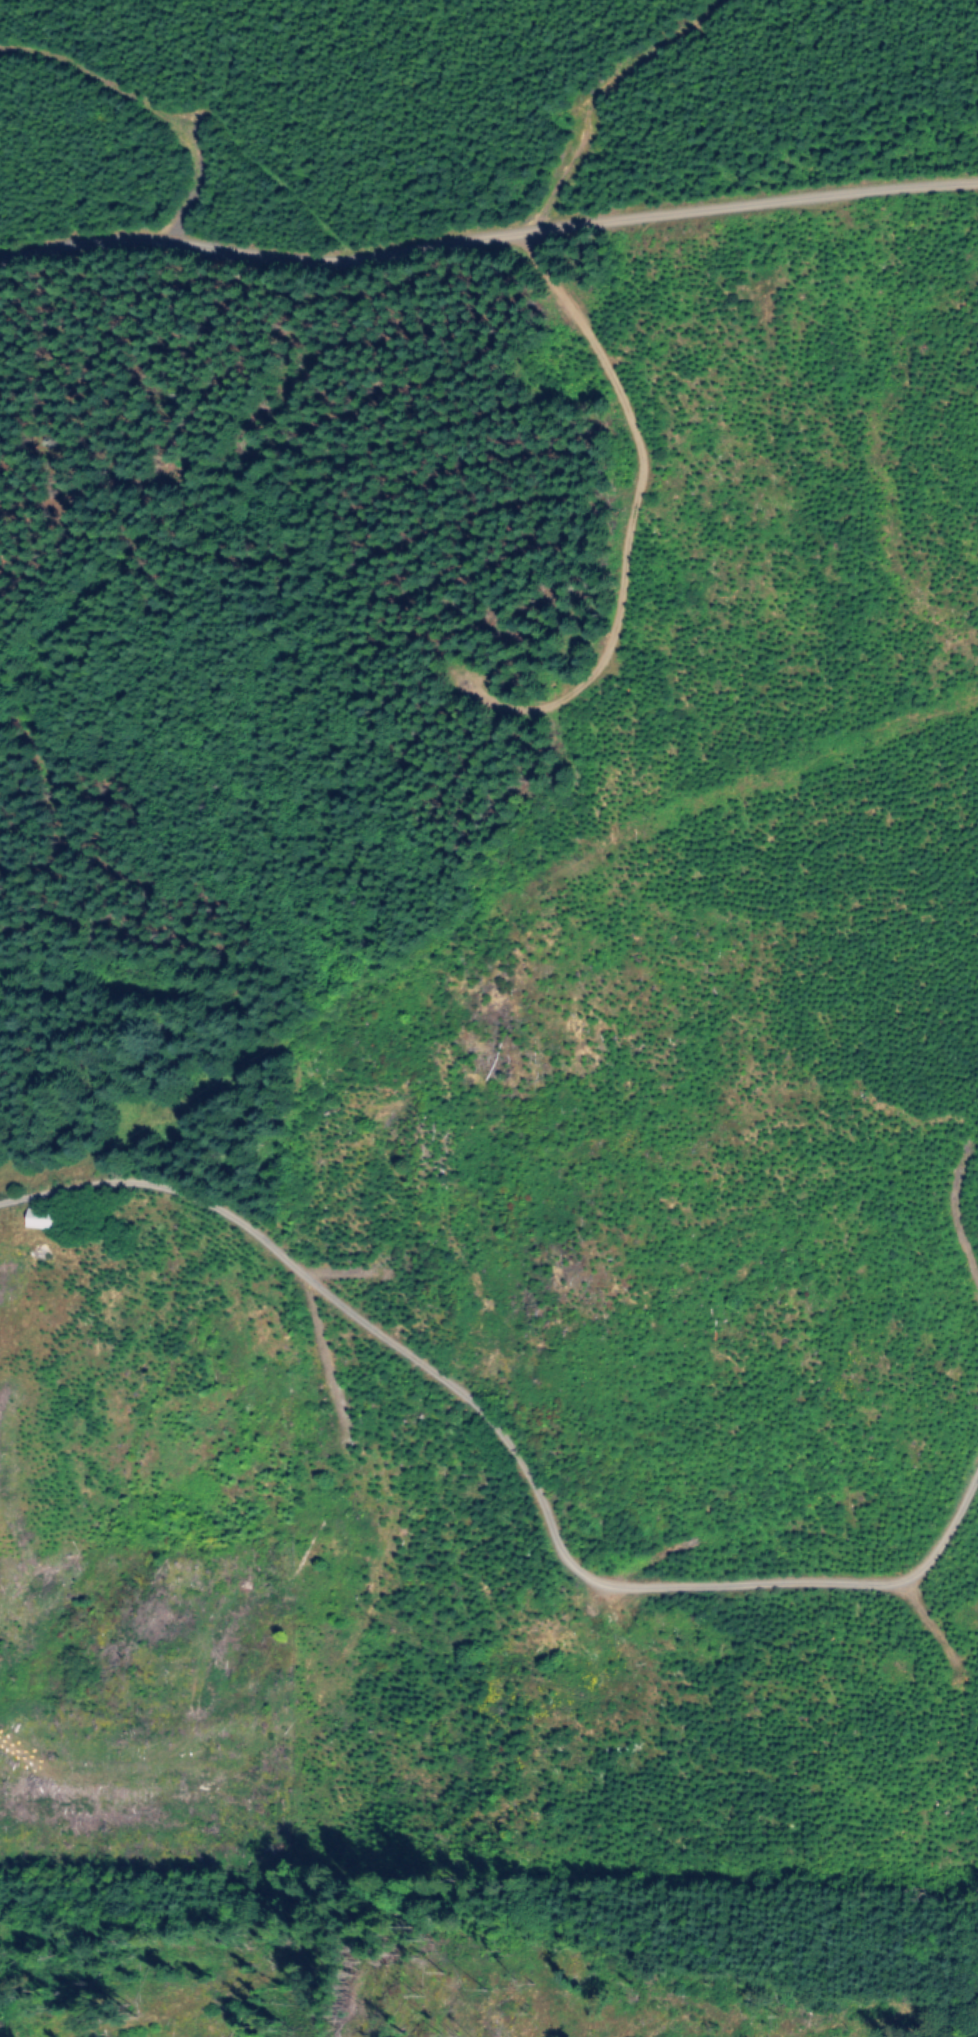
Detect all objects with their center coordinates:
road: (486, 247)
road: (106, 810)
road: (512, 1544)

